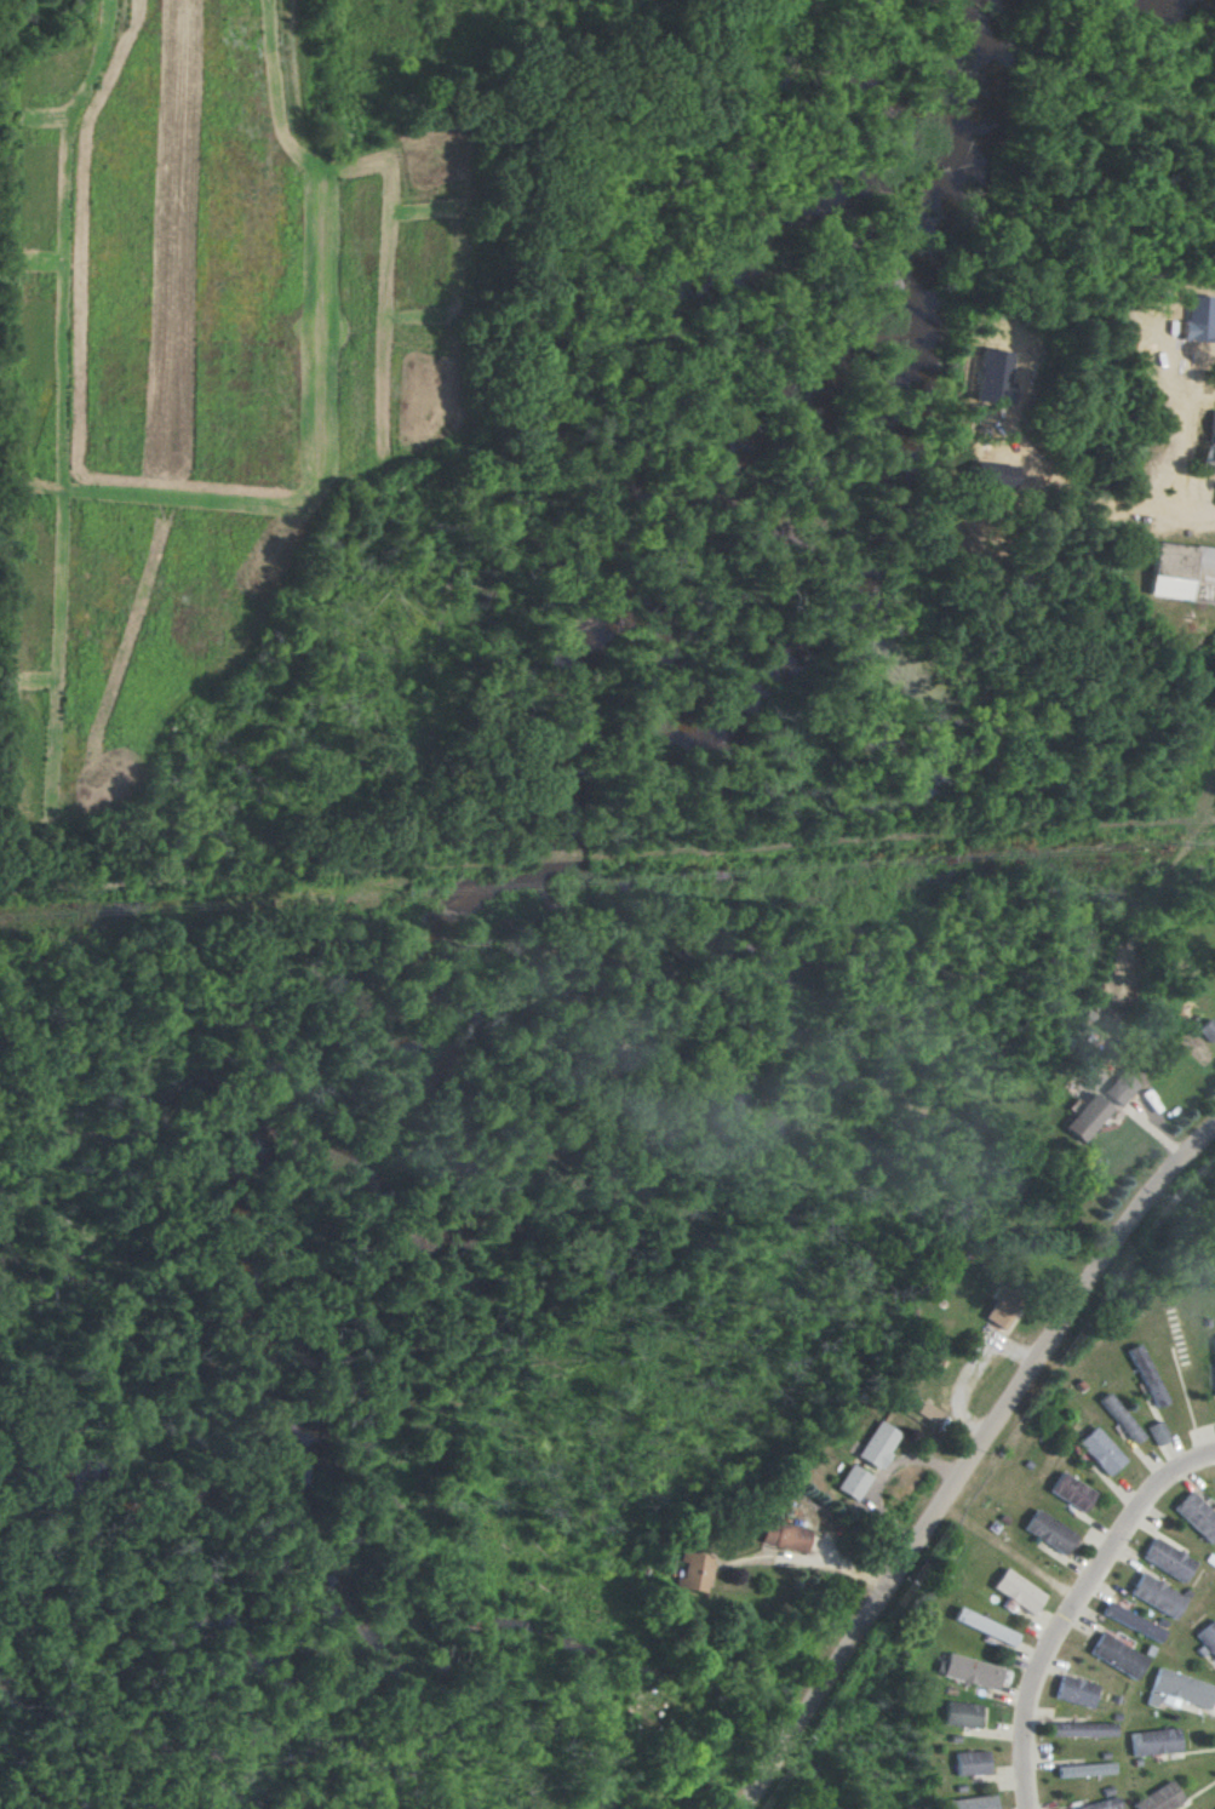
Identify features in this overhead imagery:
road: (1174, 448)
road: (1188, 513)
building: (1180, 569)
building: (1118, 1087)
building: (1088, 1117)
building: (1002, 1311)
road: (1073, 1315)
building: (1213, 1374)
building: (1146, 1375)
building: (1121, 1418)
building: (1157, 1432)
building: (878, 1444)
building: (1100, 1450)
building: (853, 1482)
building: (1071, 1492)
building: (1196, 1516)
road: (1136, 1517)
building: (1048, 1532)
building: (784, 1536)
building: (1167, 1559)
building: (690, 1572)
building: (1018, 1591)
building: (1157, 1596)
building: (1133, 1621)
building: (984, 1626)
building: (1207, 1636)
road: (839, 1654)
building: (1117, 1655)
building: (970, 1671)
building: (1181, 1689)
building: (1074, 1691)
road: (1032, 1700)
building: (961, 1714)
building: (1082, 1729)
building: (1154, 1741)
building: (970, 1763)
building: (1084, 1769)
building: (1159, 1798)
building: (973, 1803)
building: (1104, 1804)

